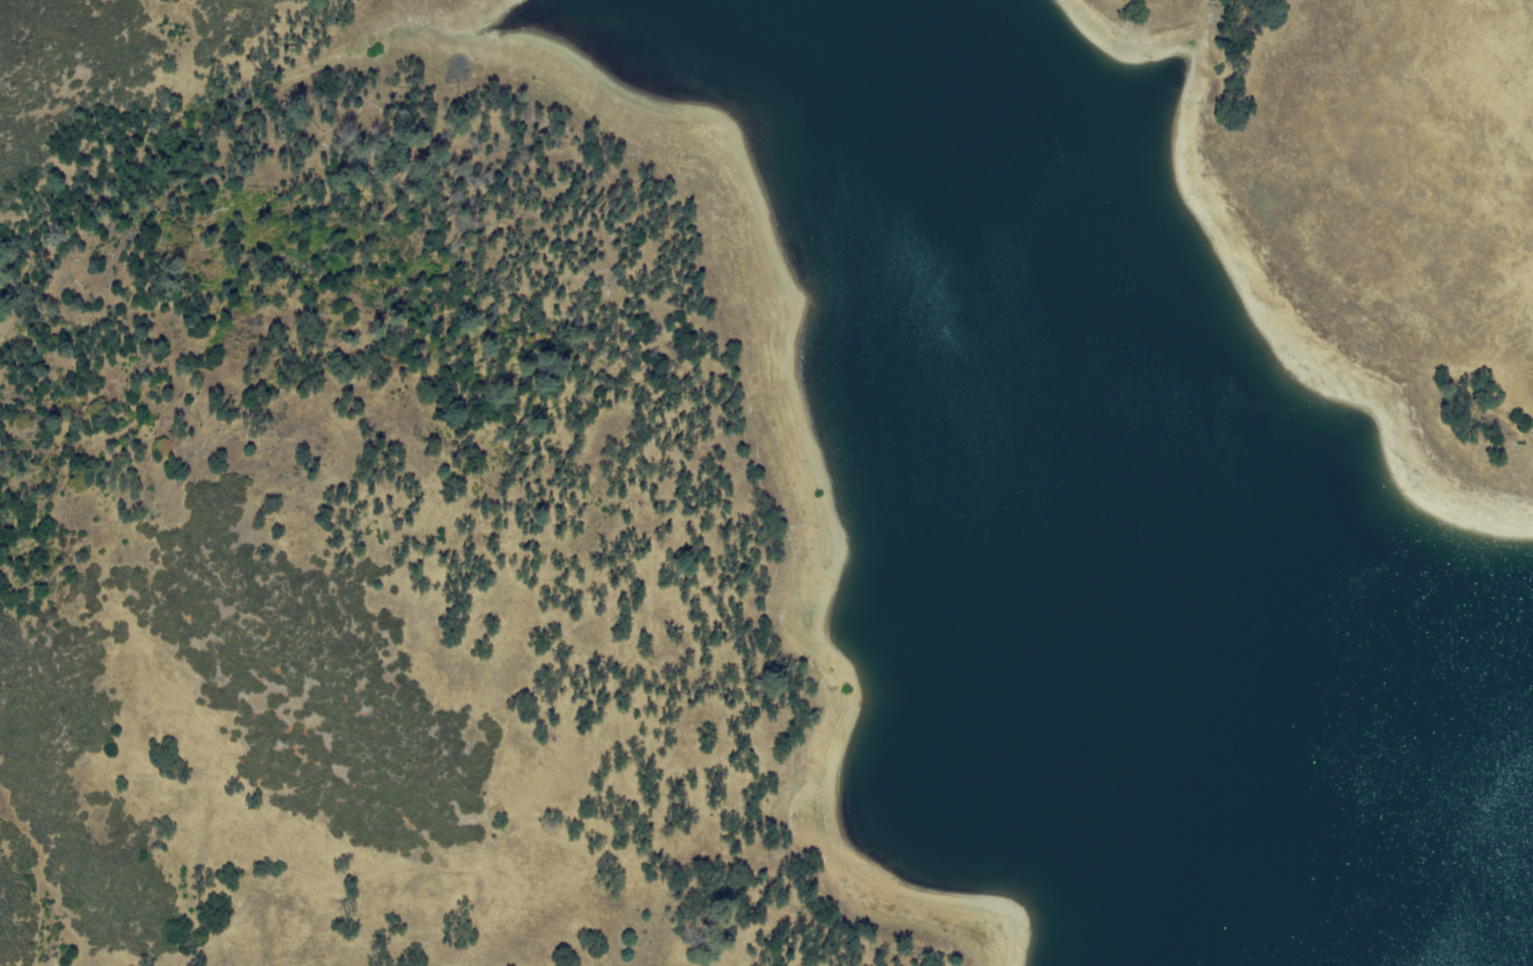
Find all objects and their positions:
river: (1505, 814)
river: (1394, 901)

